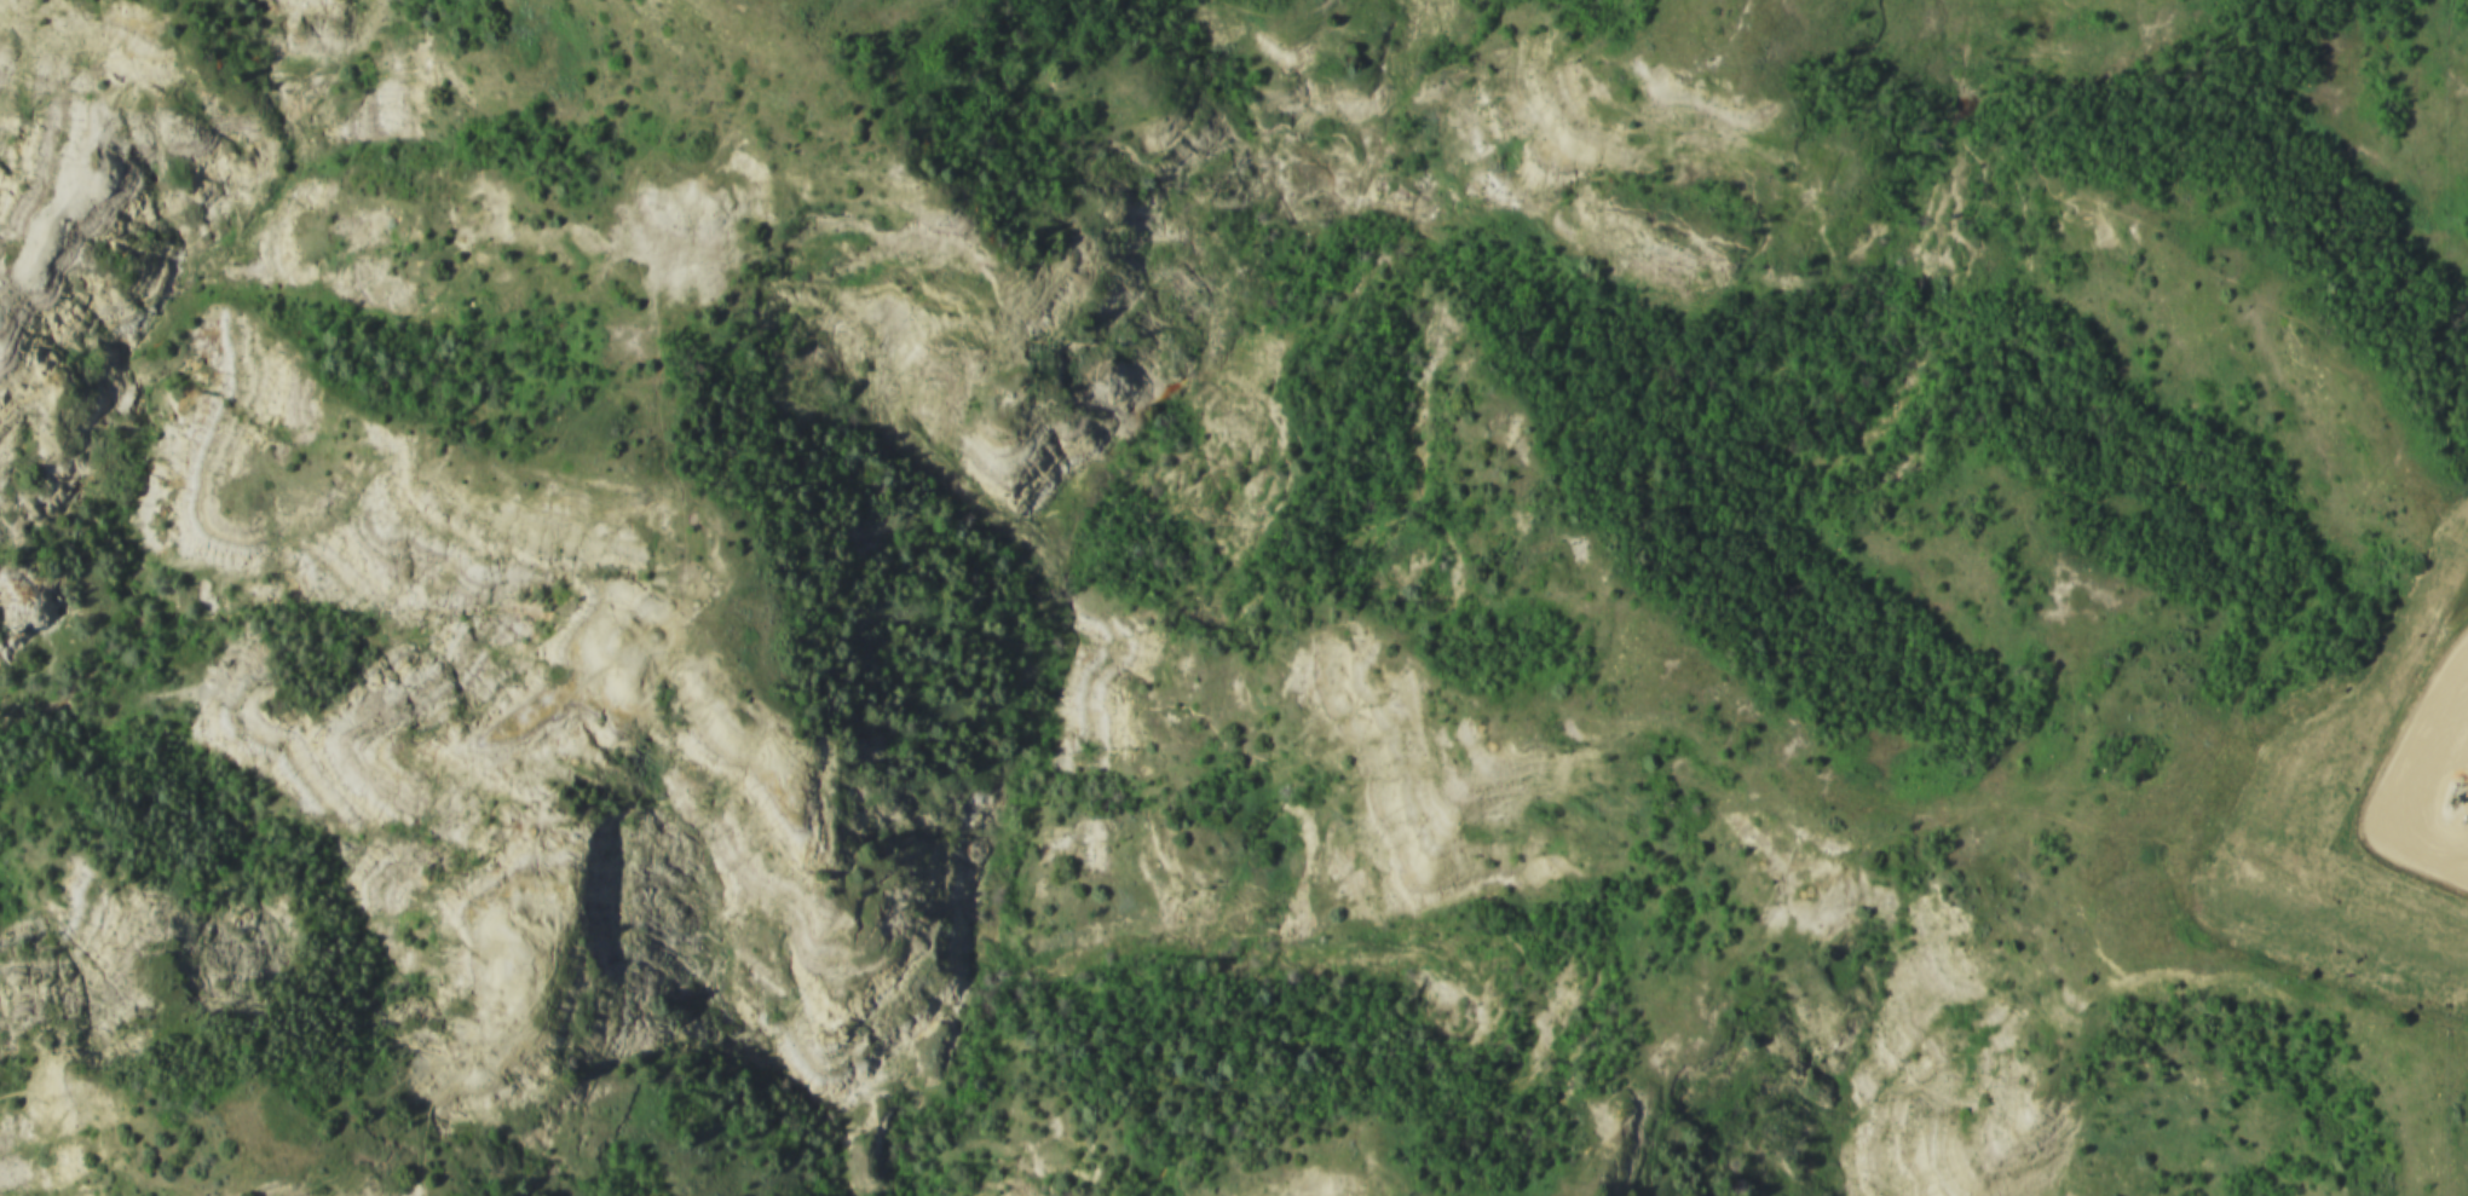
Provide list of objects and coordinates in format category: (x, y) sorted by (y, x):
petroleum well: (2444, 799)

